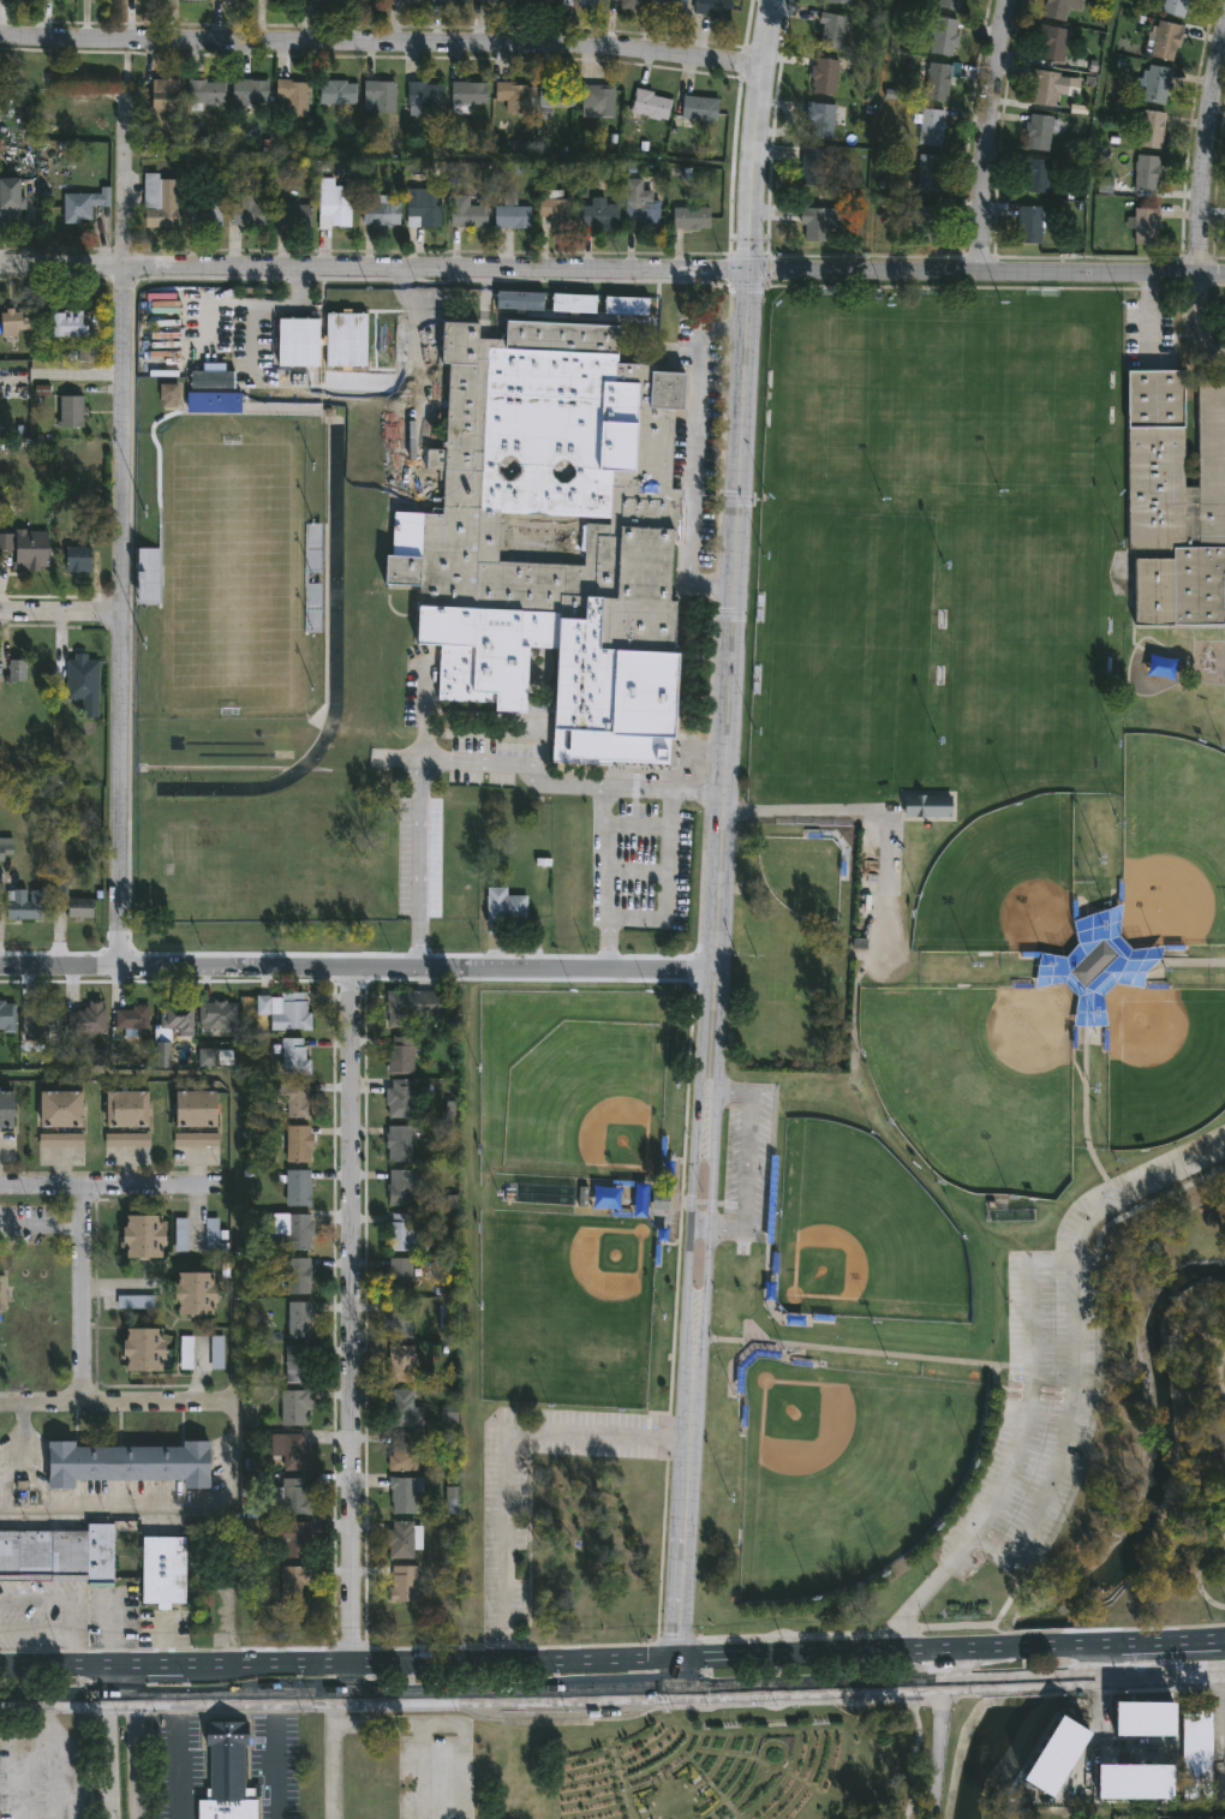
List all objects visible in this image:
building: (14, 0)
building: (150, 0)
building: (190, 0)
building: (231, 0)
building: (316, 1)
building: (367, 1)
building: (410, 1)
building: (448, 1)
building: (491, 1)
building: (841, 1)
building: (534, 2)
building: (586, 2)
building: (951, 4)
building: (631, 5)
building: (669, 6)
building: (1175, 7)
building: (711, 8)
building: (1059, 8)
building: (831, 31)
building: (1166, 41)
road: (378, 42)
building: (1052, 43)
road: (121, 72)
building: (824, 77)
building: (937, 80)
building: (1157, 84)
building: (1047, 87)
building: (250, 91)
building: (207, 93)
building: (337, 94)
building: (425, 94)
building: (468, 94)
building: (381, 95)
building: (512, 96)
building: (556, 96)
building: (166, 97)
building: (295, 97)
building: (597, 101)
building: (650, 106)
building: (698, 108)
building: (80, 117)
building: (820, 120)
building: (931, 126)
building: (1152, 130)
building: (1039, 132)
road: (876, 135)
road: (985, 135)
road: (1092, 136)
road: (1202, 144)
road: (435, 157)
building: (815, 166)
building: (928, 172)
building: (1147, 173)
building: (1038, 175)
building: (10, 201)
building: (160, 202)
building: (82, 204)
building: (333, 205)
building: (423, 208)
building: (204, 211)
building: (552, 211)
building: (381, 213)
building: (467, 213)
building: (249, 214)
building: (644, 214)
building: (293, 216)
building: (512, 217)
building: (599, 217)
building: (691, 217)
building: (928, 223)
building: (1029, 223)
building: (814, 225)
building: (1147, 227)
road: (612, 268)
traffic signals: (749, 273)
road: (207, 311)
road: (297, 311)
road: (1148, 318)
road: (1195, 320)
building: (14, 323)
building: (68, 326)
parking lot: (1151, 327)
park: (210, 328)
road: (252, 346)
parking lot: (279, 346)
road: (297, 346)
road: (274, 382)
road: (414, 383)
building: (169, 398)
parking lot: (414, 400)
building: (213, 404)
building: (71, 413)
parking lot: (694, 454)
road: (692, 455)
building: (1175, 502)
road: (118, 535)
building: (554, 539)
park: (933, 541)
road: (734, 544)
building: (78, 561)
park: (229, 569)
building: (149, 578)
road: (59, 609)
building: (16, 673)
building: (82, 684)
road: (398, 759)
road: (524, 771)
parking lot: (617, 792)
building: (928, 805)
road: (418, 811)
road: (879, 813)
road: (599, 824)
road: (634, 827)
park: (1172, 842)
building: (5, 851)
road: (632, 873)
road: (664, 882)
park: (1003, 882)
building: (24, 907)
building: (506, 908)
building: (79, 909)
road: (1195, 965)
road: (354, 971)
road: (1148, 989)
park: (966, 1001)
building: (285, 1012)
building: (410, 1012)
building: (217, 1016)
building: (7, 1018)
building: (41, 1018)
building: (131, 1019)
building: (173, 1020)
building: (86, 1024)
building: (400, 1056)
building: (294, 1058)
park: (1163, 1061)
park: (976, 1081)
building: (293, 1099)
building: (400, 1101)
park: (587, 1102)
building: (127, 1110)
building: (7, 1111)
building: (61, 1111)
building: (196, 1111)
road: (1086, 1116)
building: (195, 1140)
building: (60, 1141)
building: (126, 1141)
building: (297, 1146)
building: (398, 1146)
parking lot: (747, 1163)
road: (745, 1167)
road: (107, 1186)
building: (298, 1189)
building: (404, 1189)
road: (1133, 1189)
building: (606, 1198)
road: (195, 1215)
road: (40, 1227)
road: (687, 1230)
road: (706, 1230)
park: (861, 1231)
building: (292, 1234)
building: (180, 1236)
building: (211, 1236)
building: (405, 1236)
building: (143, 1239)
building: (298, 1277)
building: (399, 1277)
road: (115, 1288)
road: (78, 1294)
building: (196, 1295)
park: (570, 1295)
building: (2, 1296)
park: (562, 1300)
building: (299, 1322)
building: (399, 1322)
building: (820, 1322)
building: (795, 1323)
road: (346, 1332)
building: (144, 1352)
building: (185, 1354)
building: (215, 1354)
road: (851, 1355)
building: (297, 1365)
building: (399, 1366)
parking lot: (1053, 1378)
road: (113, 1402)
road: (1026, 1404)
building: (294, 1408)
building: (404, 1411)
road: (1094, 1435)
road: (22, 1437)
road: (1065, 1445)
building: (291, 1450)
building: (402, 1451)
road: (502, 1459)
building: (129, 1465)
park: (843, 1468)
building: (294, 1496)
building: (402, 1496)
road: (167, 1508)
road: (681, 1513)
building: (400, 1539)
building: (289, 1540)
parking lot: (506, 1547)
building: (59, 1555)
road: (1205, 1561)
building: (157, 1573)
building: (293, 1584)
building: (402, 1585)
road: (927, 1590)
road: (68, 1600)
road: (1209, 1603)
road: (904, 1614)
building: (294, 1628)
road: (1107, 1630)
road: (37, 1632)
road: (114, 1632)
road: (1189, 1638)
road: (785, 1640)
road: (677, 1642)
road: (1012, 1645)
road: (772, 1652)
traffic signals: (674, 1656)
road: (509, 1657)
road: (1154, 1658)
road: (173, 1664)
road: (674, 1672)
road: (699, 1675)
road: (1190, 1675)
road: (659, 1676)
road: (1047, 1680)
road: (807, 1688)
traffic signals: (674, 1689)
road: (510, 1692)
road: (173, 1698)
road: (556, 1706)
road: (43, 1714)
road: (120, 1716)
road: (47, 1718)
road: (1221, 1719)
road: (545, 1720)
road: (398, 1724)
road: (937, 1732)
building: (1131, 1736)
road: (506, 1739)
road: (108, 1741)
road: (133, 1741)
building: (1054, 1743)
building: (1194, 1754)
road: (177, 1758)
road: (276, 1758)
road: (331, 1758)
park: (758, 1760)
road: (910, 1760)
parking lot: (52, 1766)
road: (19, 1769)
road: (420, 1771)
road: (65, 1772)
parking lot: (426, 1772)
building: (226, 1773)
road: (464, 1773)
building: (1106, 1787)
building: (520, 1805)

